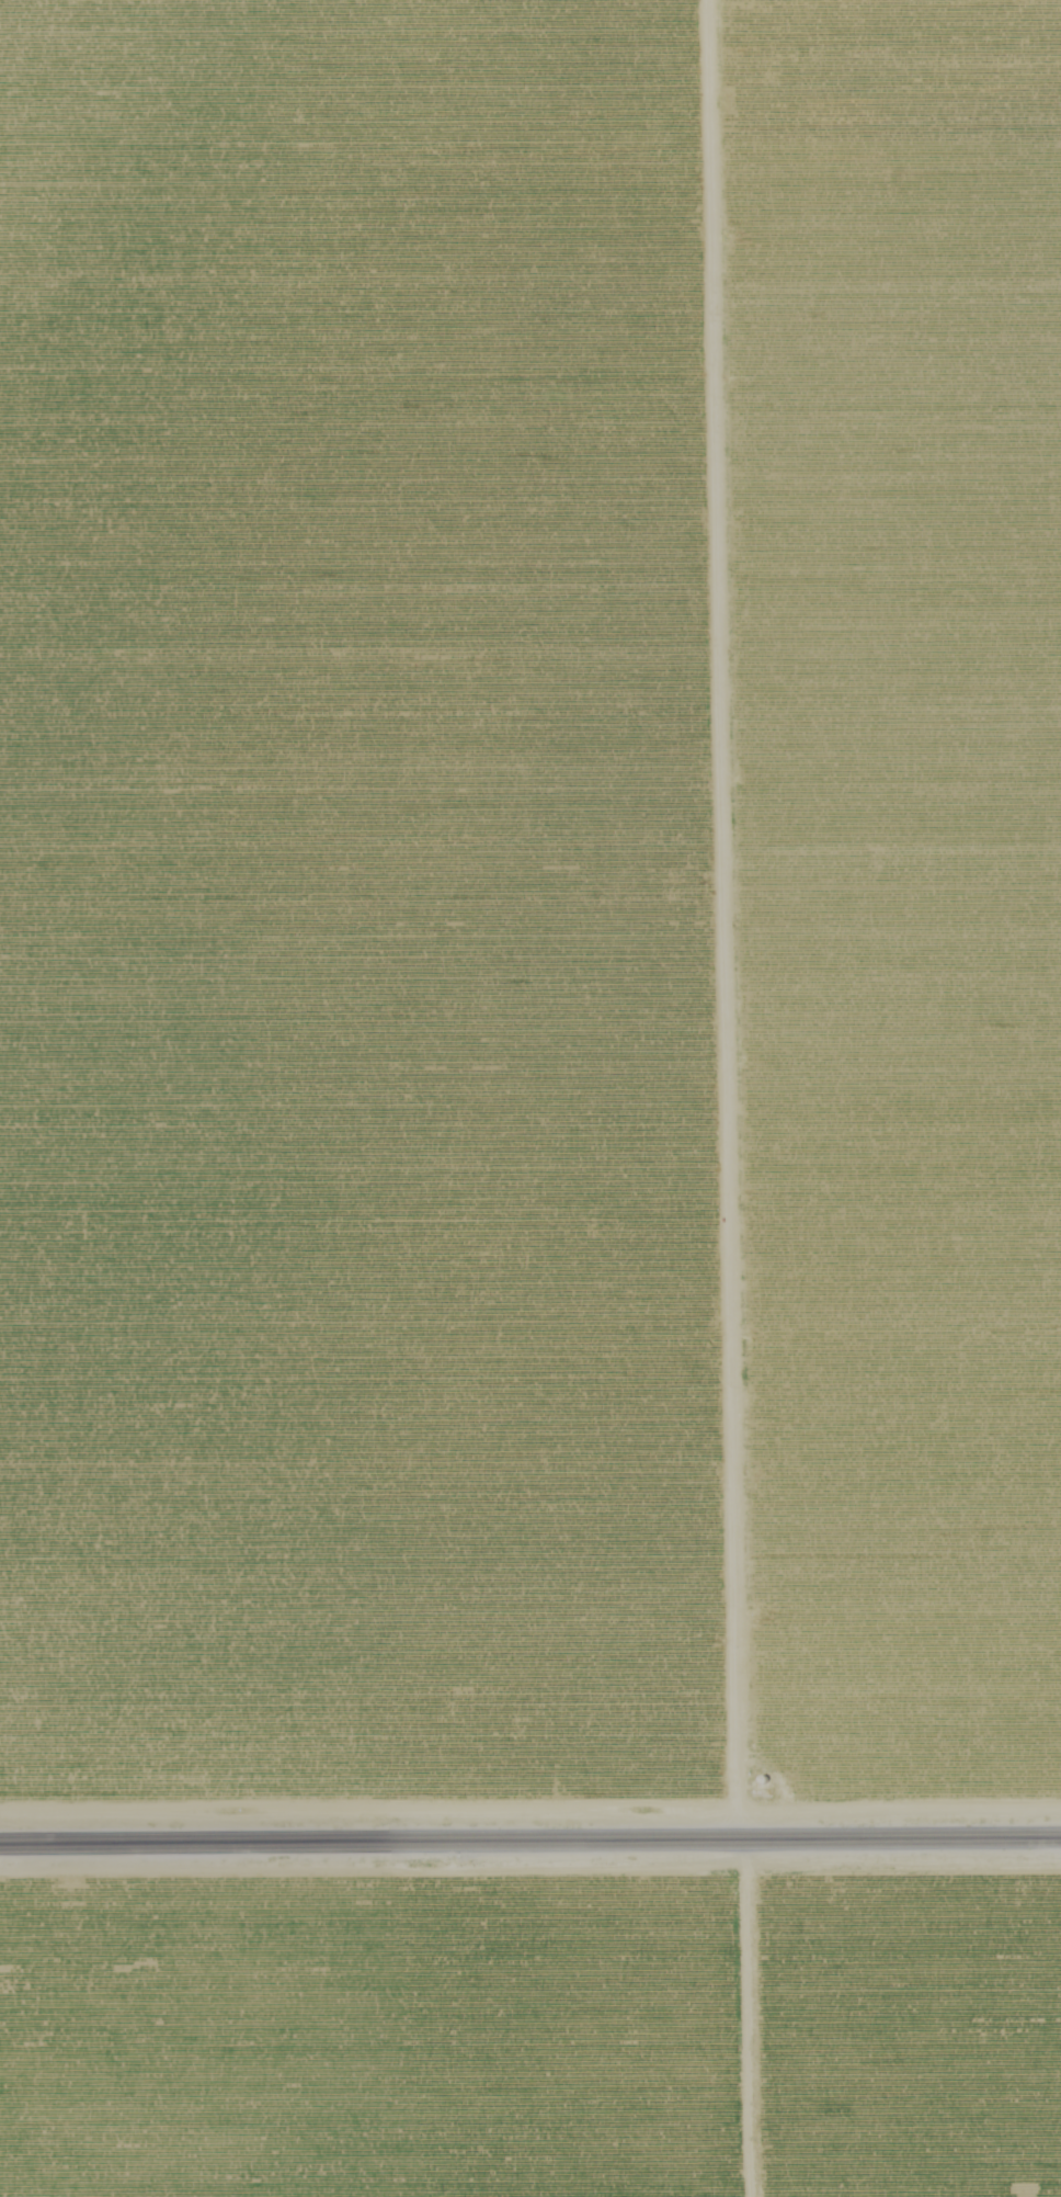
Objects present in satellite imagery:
crop: (529, 898)
road: (530, 1843)
crop: (532, 2041)

